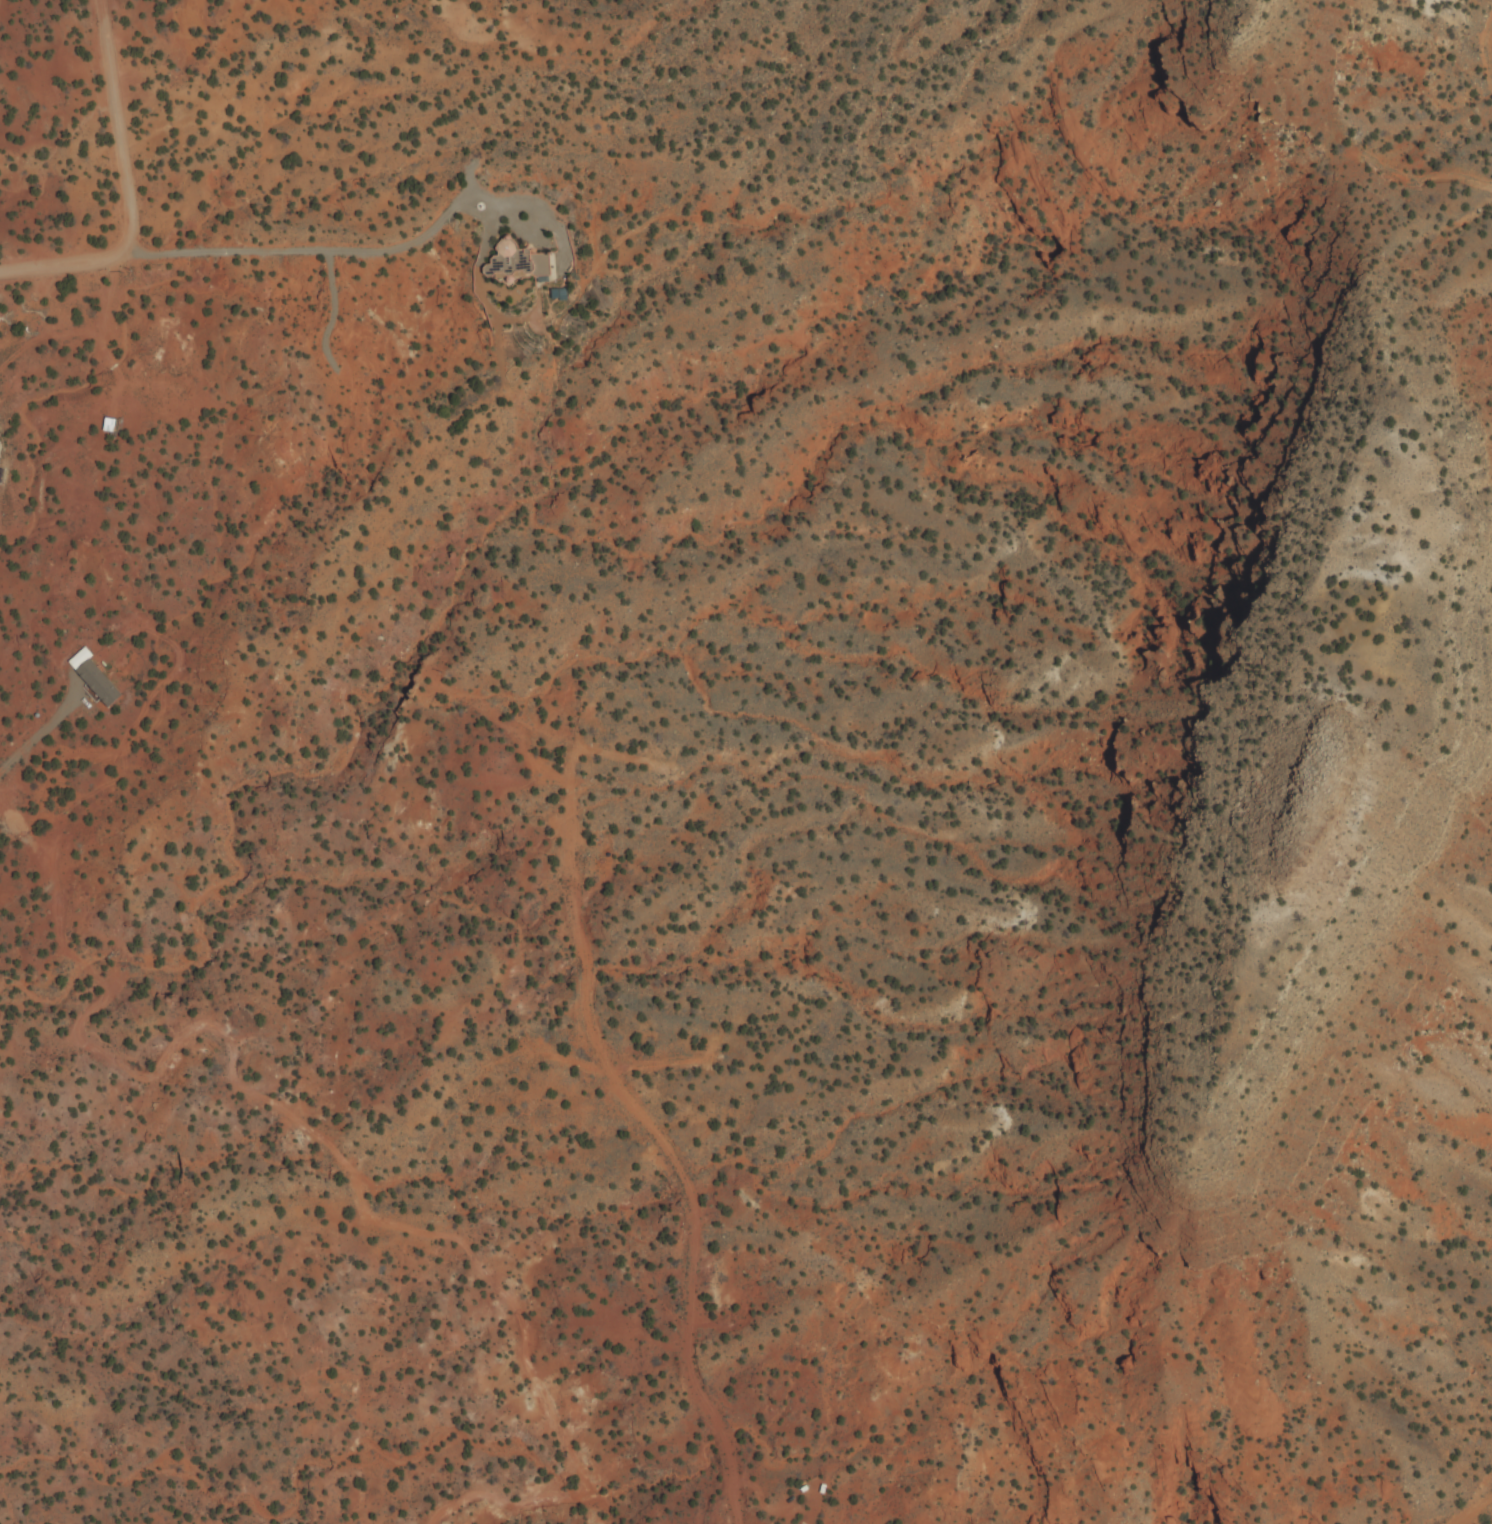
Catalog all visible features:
road: (123, 192)
road: (329, 252)
building: (520, 262)
building: (110, 426)
building: (0, 451)
building: (94, 679)
road: (37, 734)
road: (1469, 1487)

